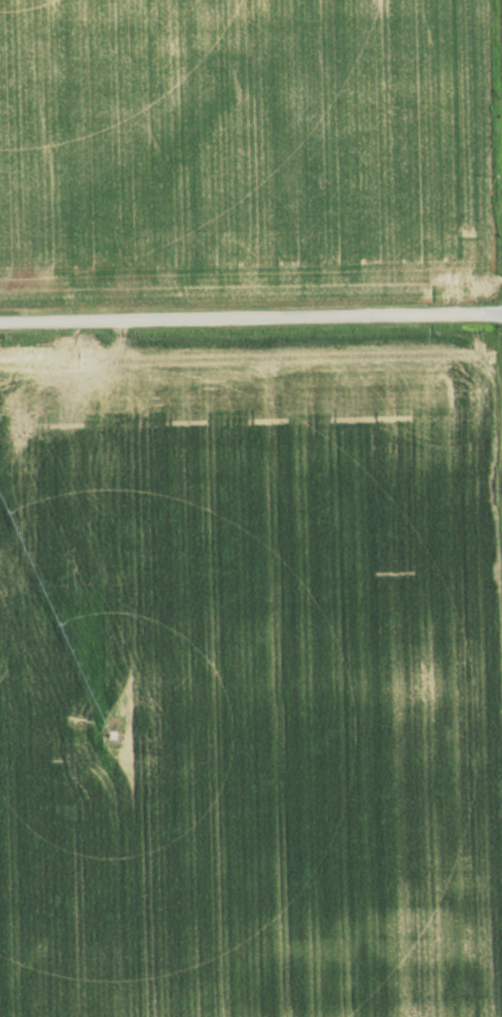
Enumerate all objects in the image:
road: (251, 313)
crop: (247, 689)

